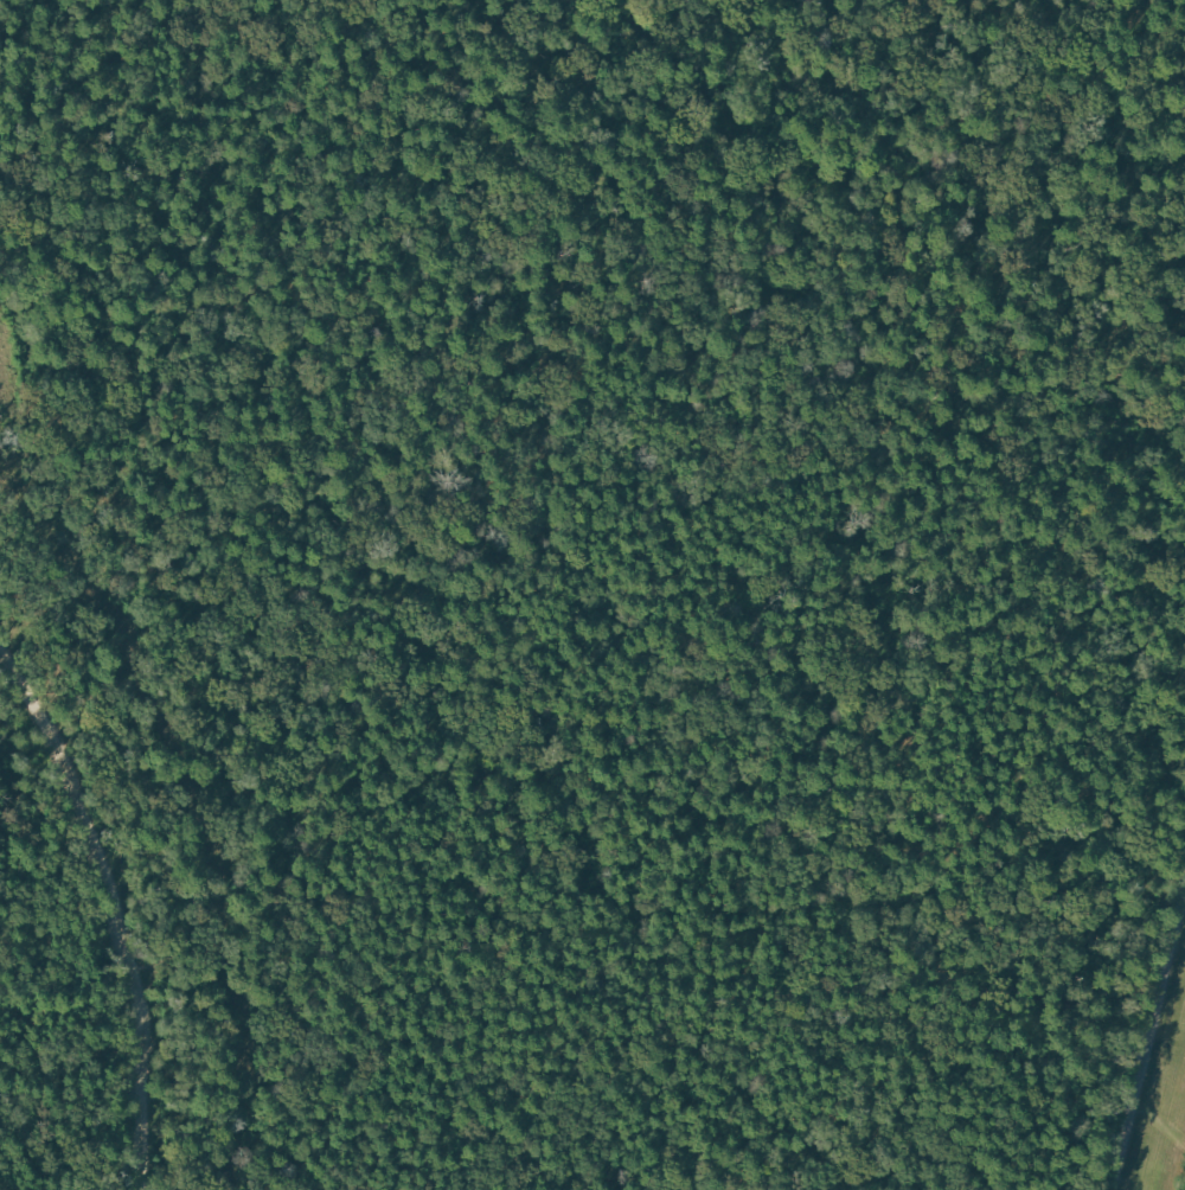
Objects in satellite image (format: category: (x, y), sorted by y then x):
road: (114, 911)
road: (592, 1007)
road: (1147, 1045)

